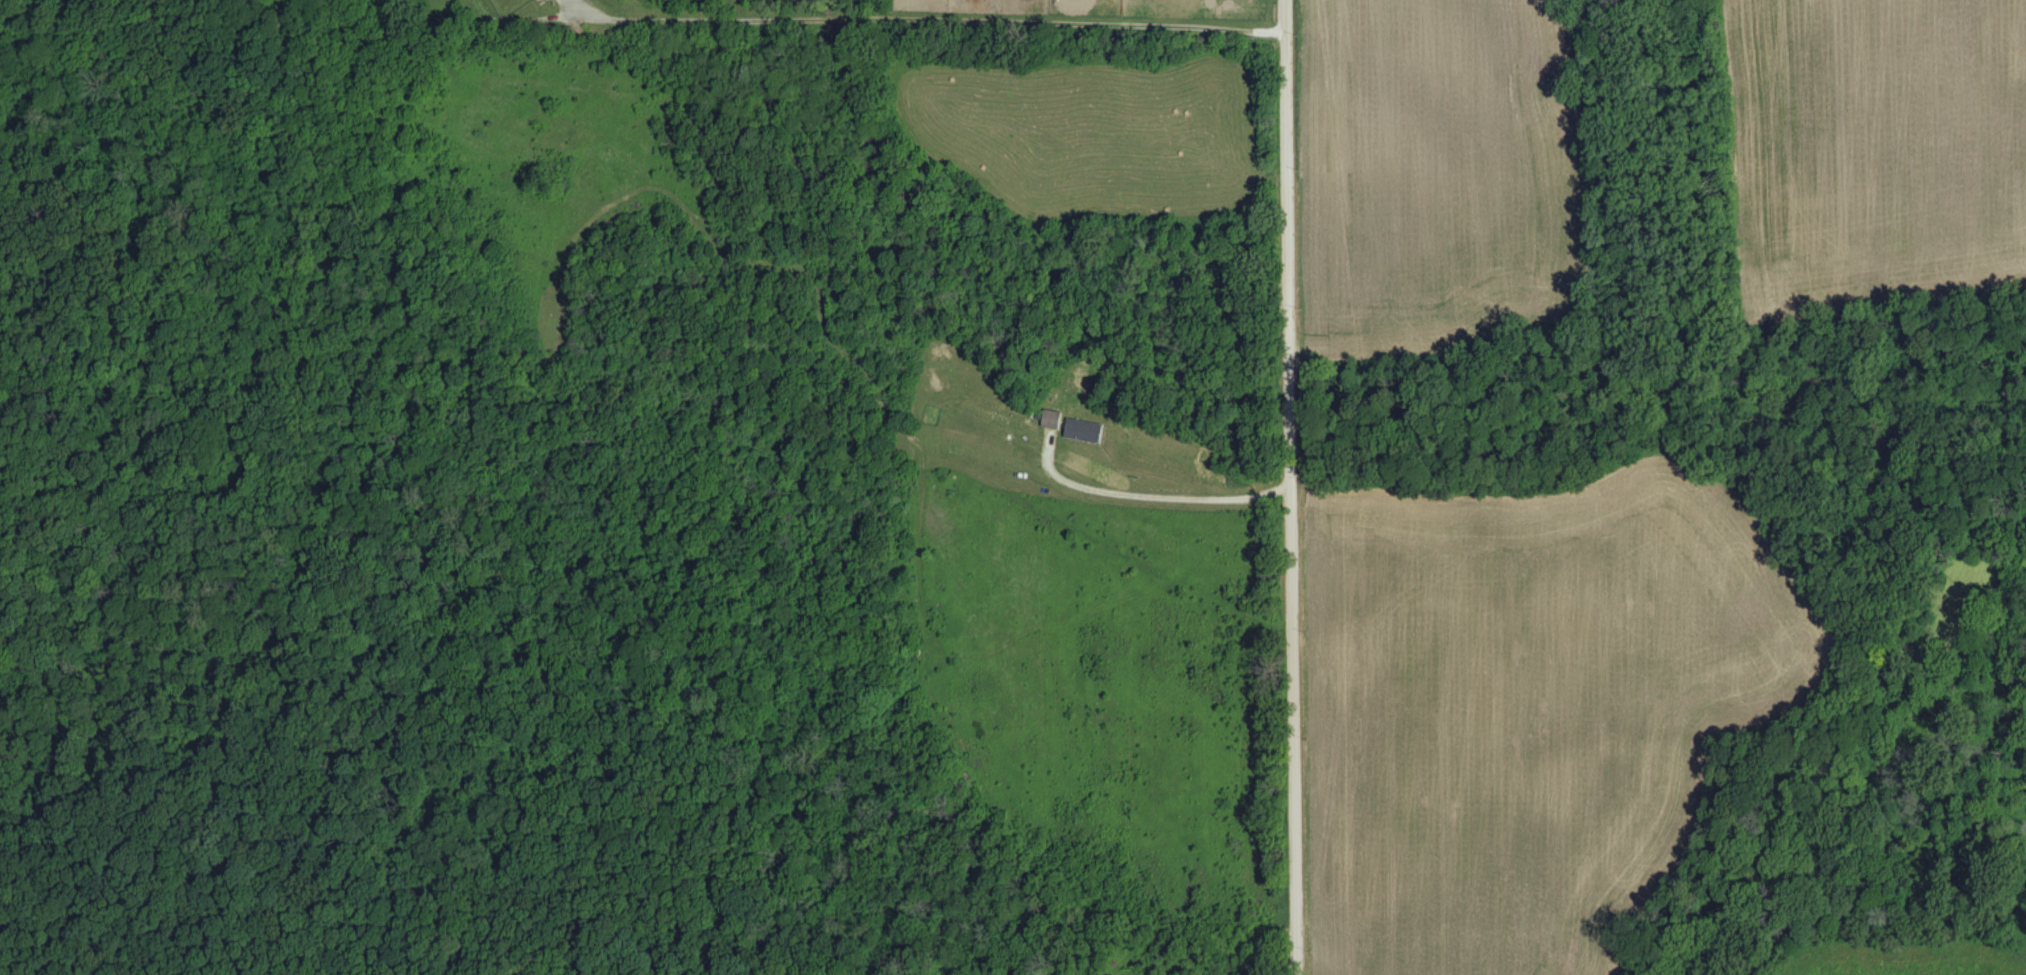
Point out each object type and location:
road: (923, 21)
building: (1055, 420)
building: (1087, 432)
road: (1152, 485)
road: (1282, 487)

